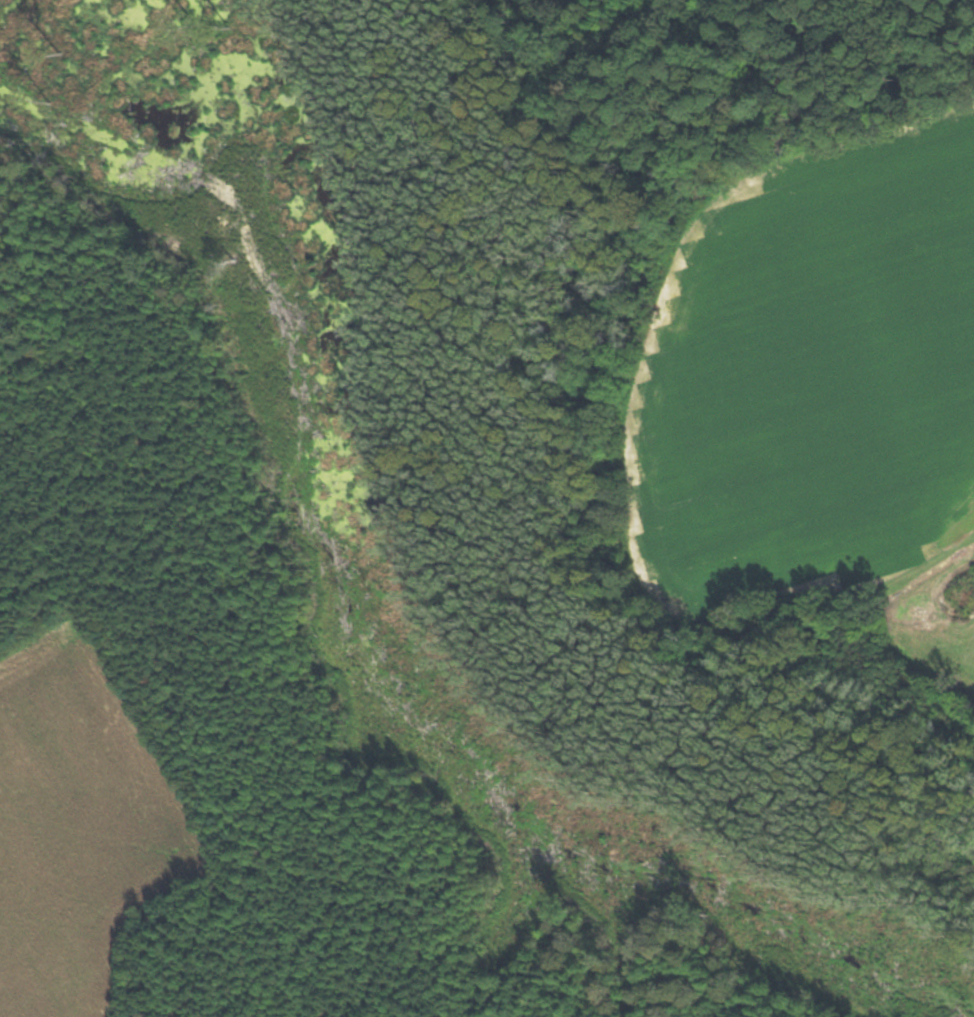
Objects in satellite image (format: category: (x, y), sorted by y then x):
road: (967, 565)
building: (919, 613)

